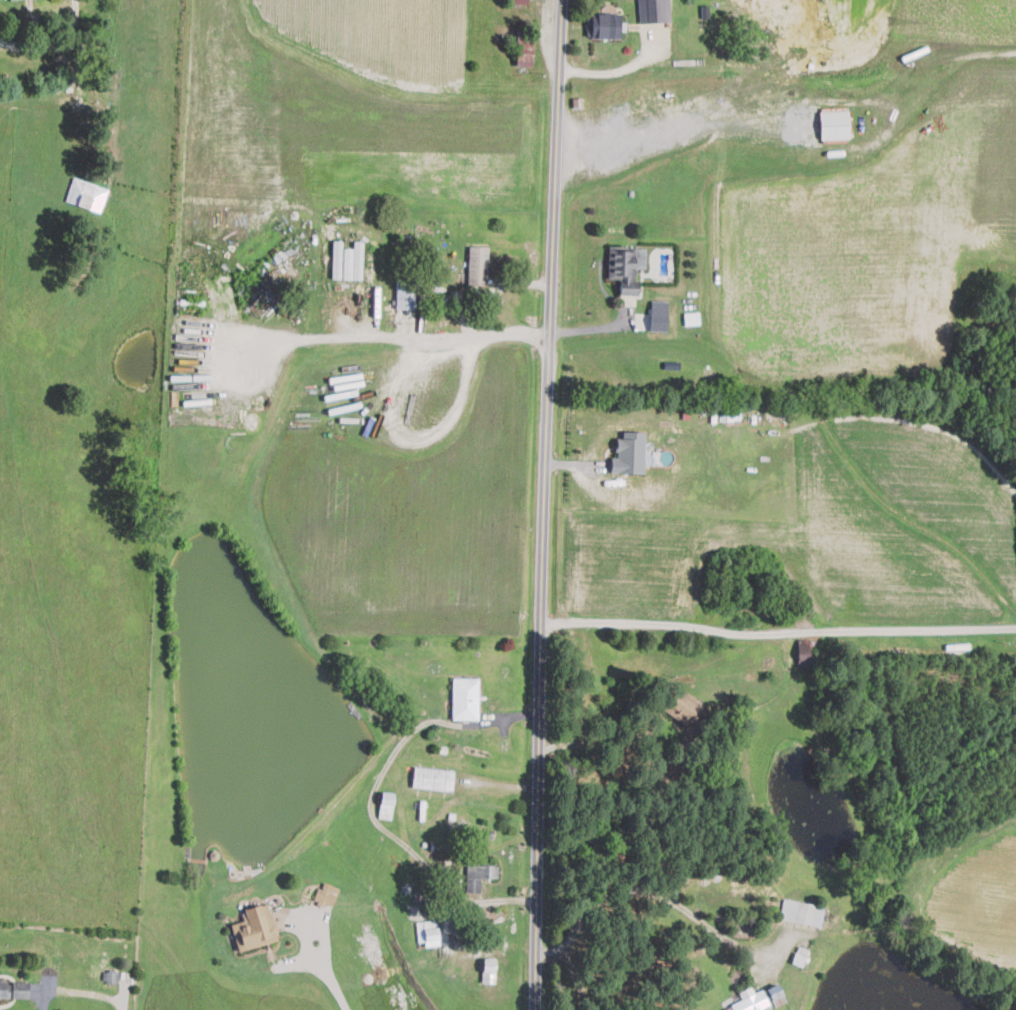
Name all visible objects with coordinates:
building: (518, 1)
building: (654, 10)
building: (602, 25)
building: (523, 56)
road: (613, 72)
building: (833, 122)
building: (85, 194)
building: (336, 259)
building: (477, 264)
building: (626, 266)
road: (488, 291)
building: (405, 295)
building: (658, 315)
building: (691, 317)
road: (593, 326)
road: (475, 339)
building: (629, 453)
road: (543, 504)
road: (777, 631)
building: (802, 651)
building: (465, 698)
building: (682, 706)
road: (610, 740)
building: (432, 777)
building: (386, 804)
building: (478, 875)
building: (325, 894)
road: (654, 900)
building: (801, 912)
building: (254, 927)
building: (427, 931)
building: (488, 969)
building: (111, 976)
road: (330, 980)
building: (20, 989)
road: (123, 994)
building: (776, 994)
road: (46, 1000)
building: (751, 1000)

